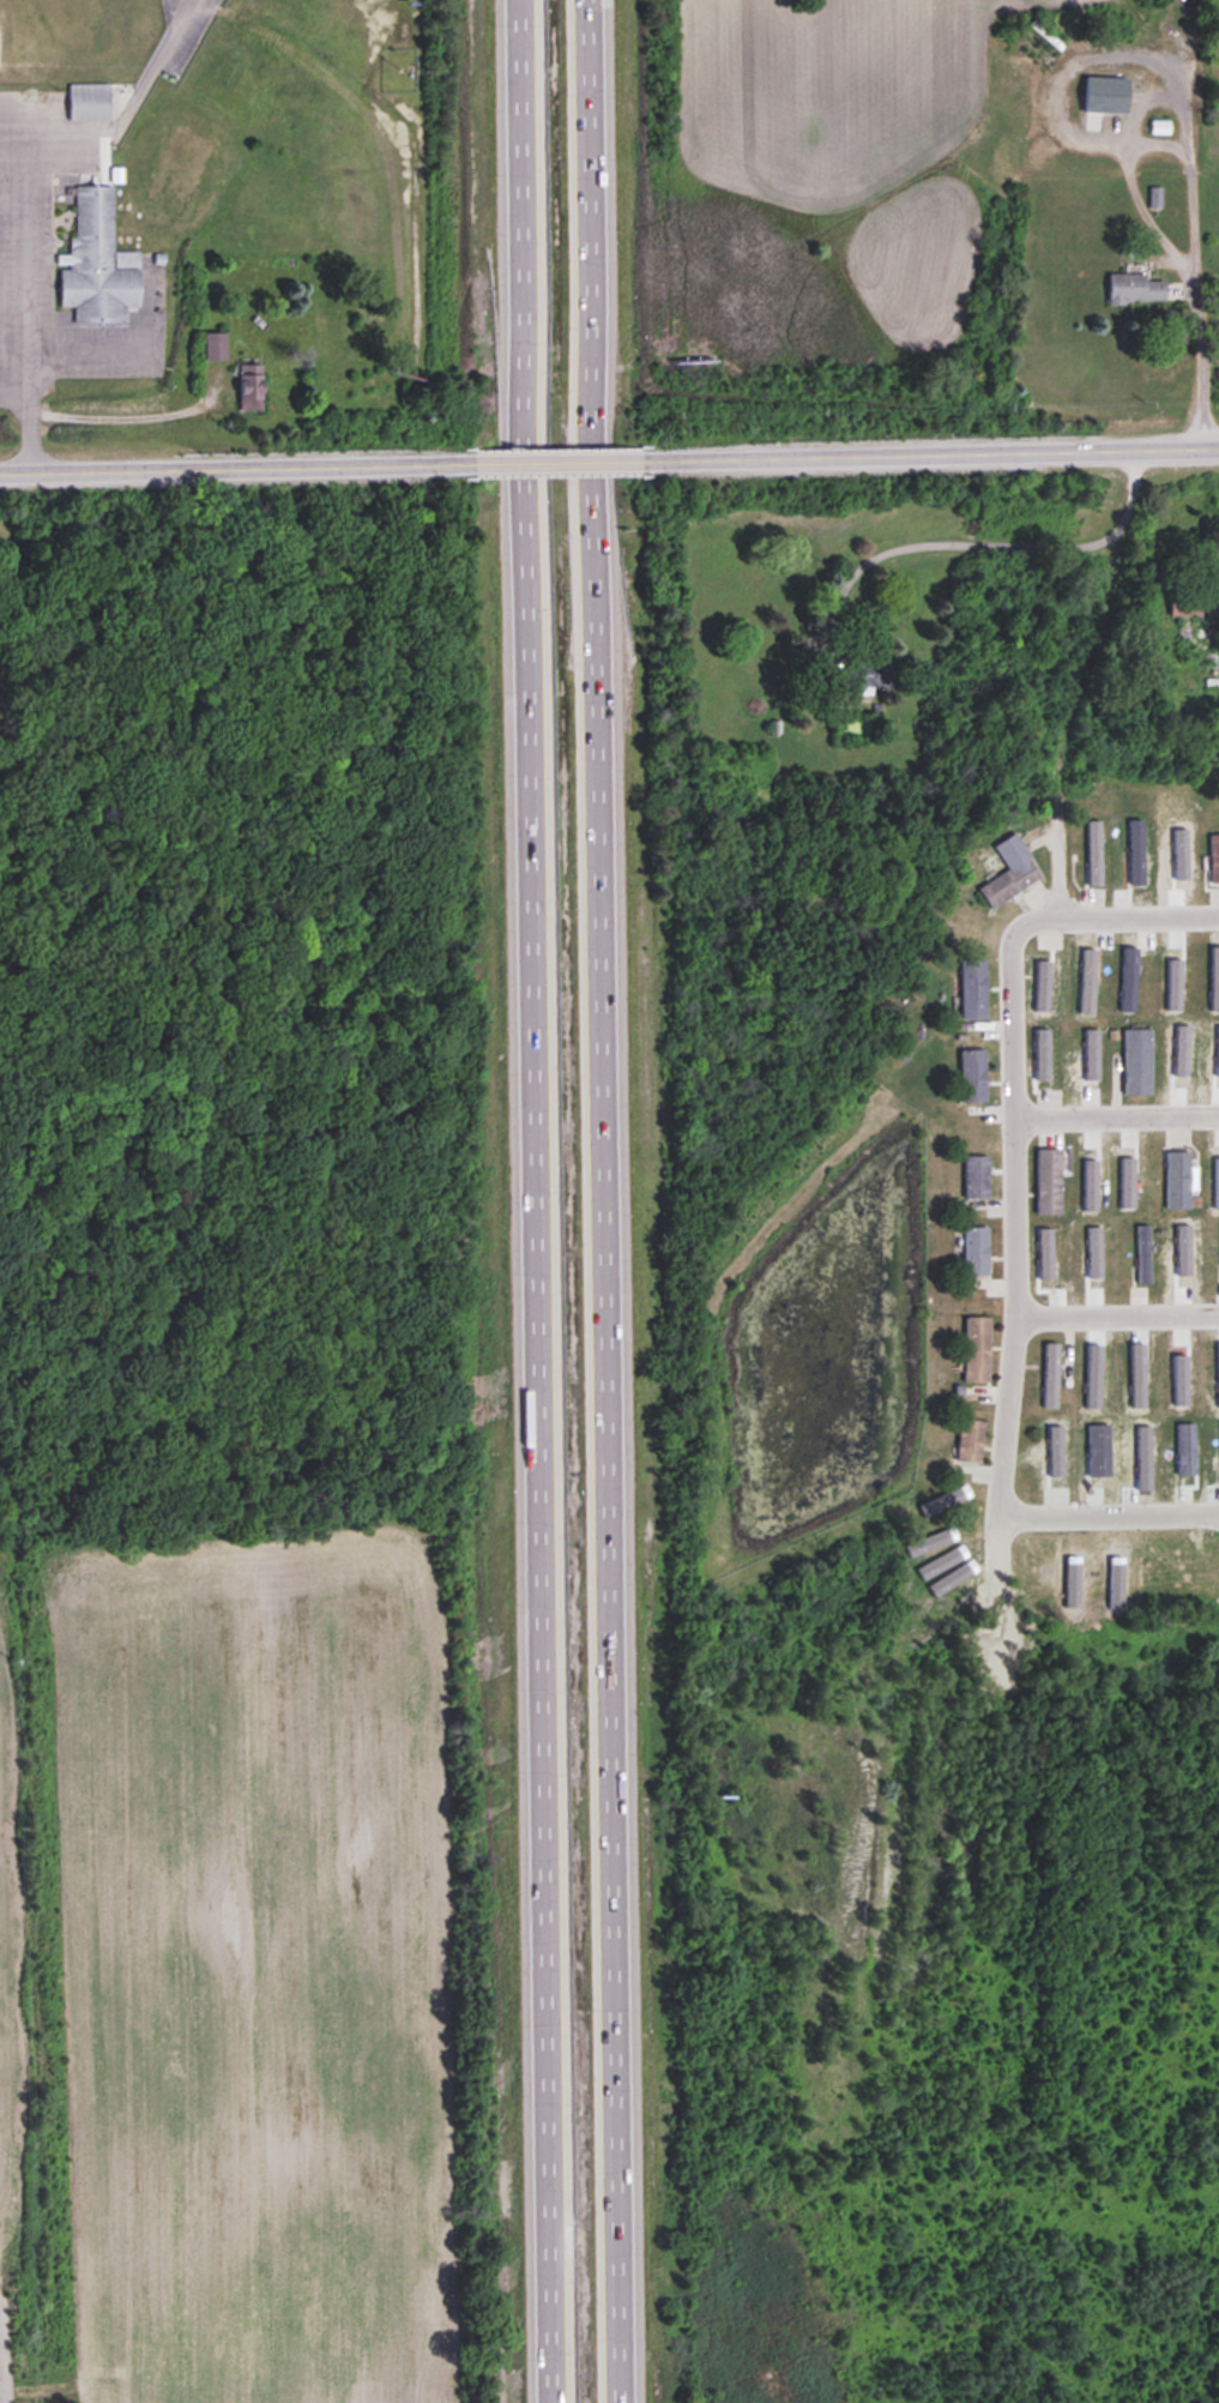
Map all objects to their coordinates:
building: (1115, 97)
building: (89, 103)
road: (28, 112)
road: (1188, 153)
road: (28, 189)
building: (98, 265)
building: (1135, 290)
building: (216, 347)
building: (1218, 378)
building: (252, 389)
road: (14, 392)
road: (128, 416)
road: (930, 448)
road: (560, 458)
road: (237, 464)
road: (991, 544)
building: (1185, 604)
building: (1212, 606)
building: (858, 677)
building: (1214, 860)
building: (1012, 873)
road: (1116, 917)
building: (973, 990)
building: (1136, 1062)
building: (972, 1076)
road: (1117, 1116)
building: (1177, 1179)
building: (1049, 1181)
road: (533, 1200)
road: (604, 1200)
road: (1016, 1251)
building: (976, 1252)
building: (1142, 1253)
road: (1118, 1317)
building: (976, 1350)
building: (970, 1441)
road: (1109, 1514)
building: (1155, 1576)
road: (0, 2397)

